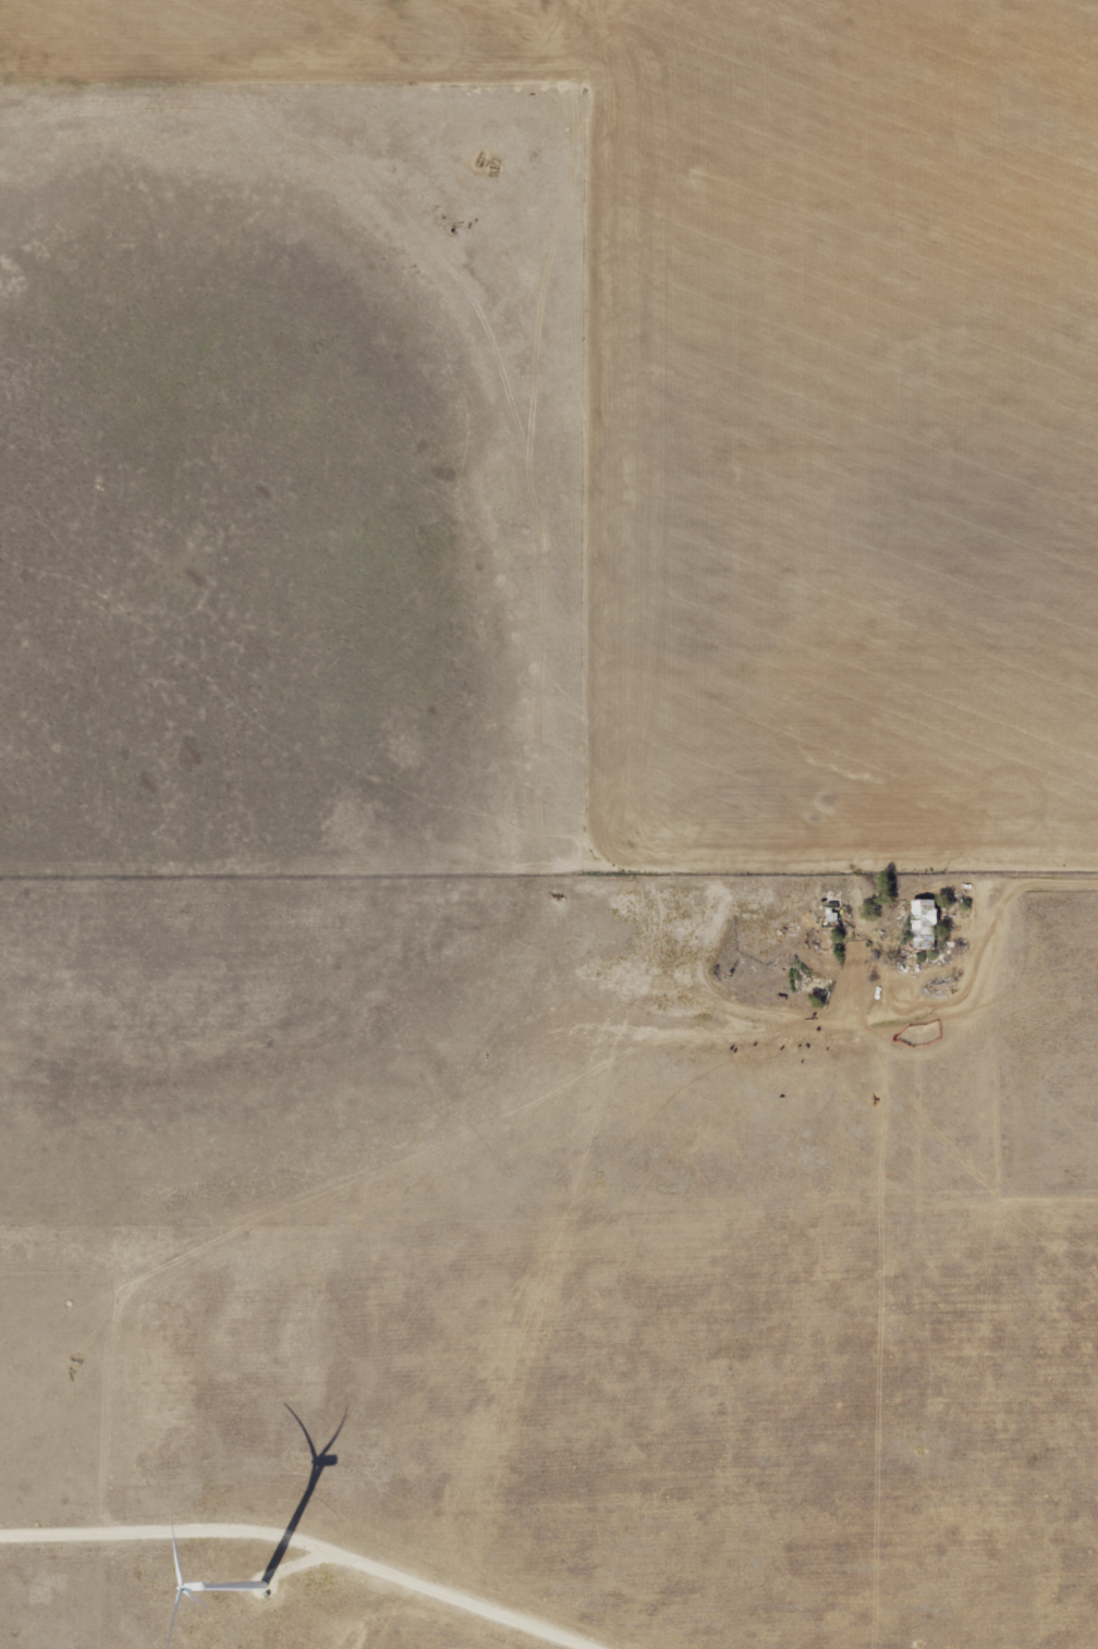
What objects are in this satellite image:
building: (916, 923)
road: (979, 946)
road: (304, 1542)
road: (303, 1562)
wind turbine: (264, 1593)

